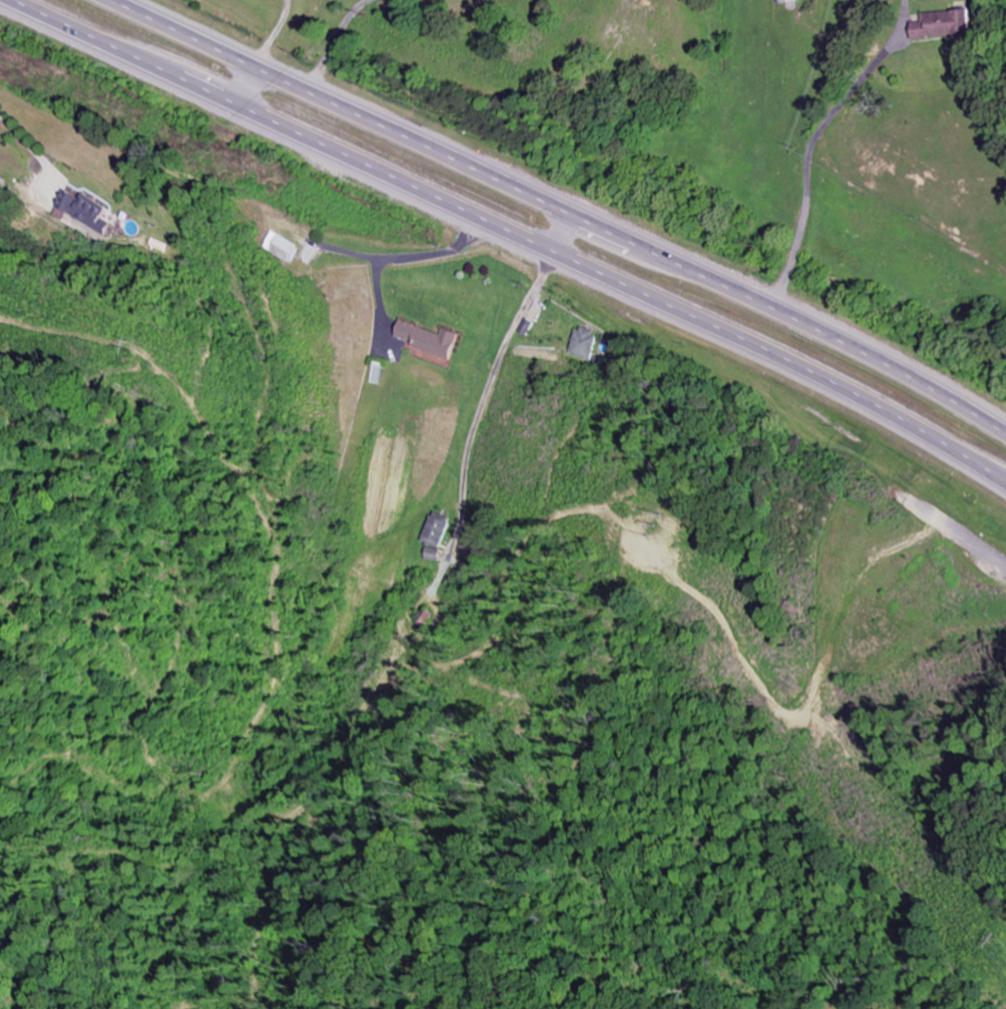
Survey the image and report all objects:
building: (789, 1)
building: (947, 25)
road: (563, 207)
building: (90, 214)
road: (507, 235)
building: (431, 339)
building: (585, 344)
road: (954, 530)
building: (436, 531)

